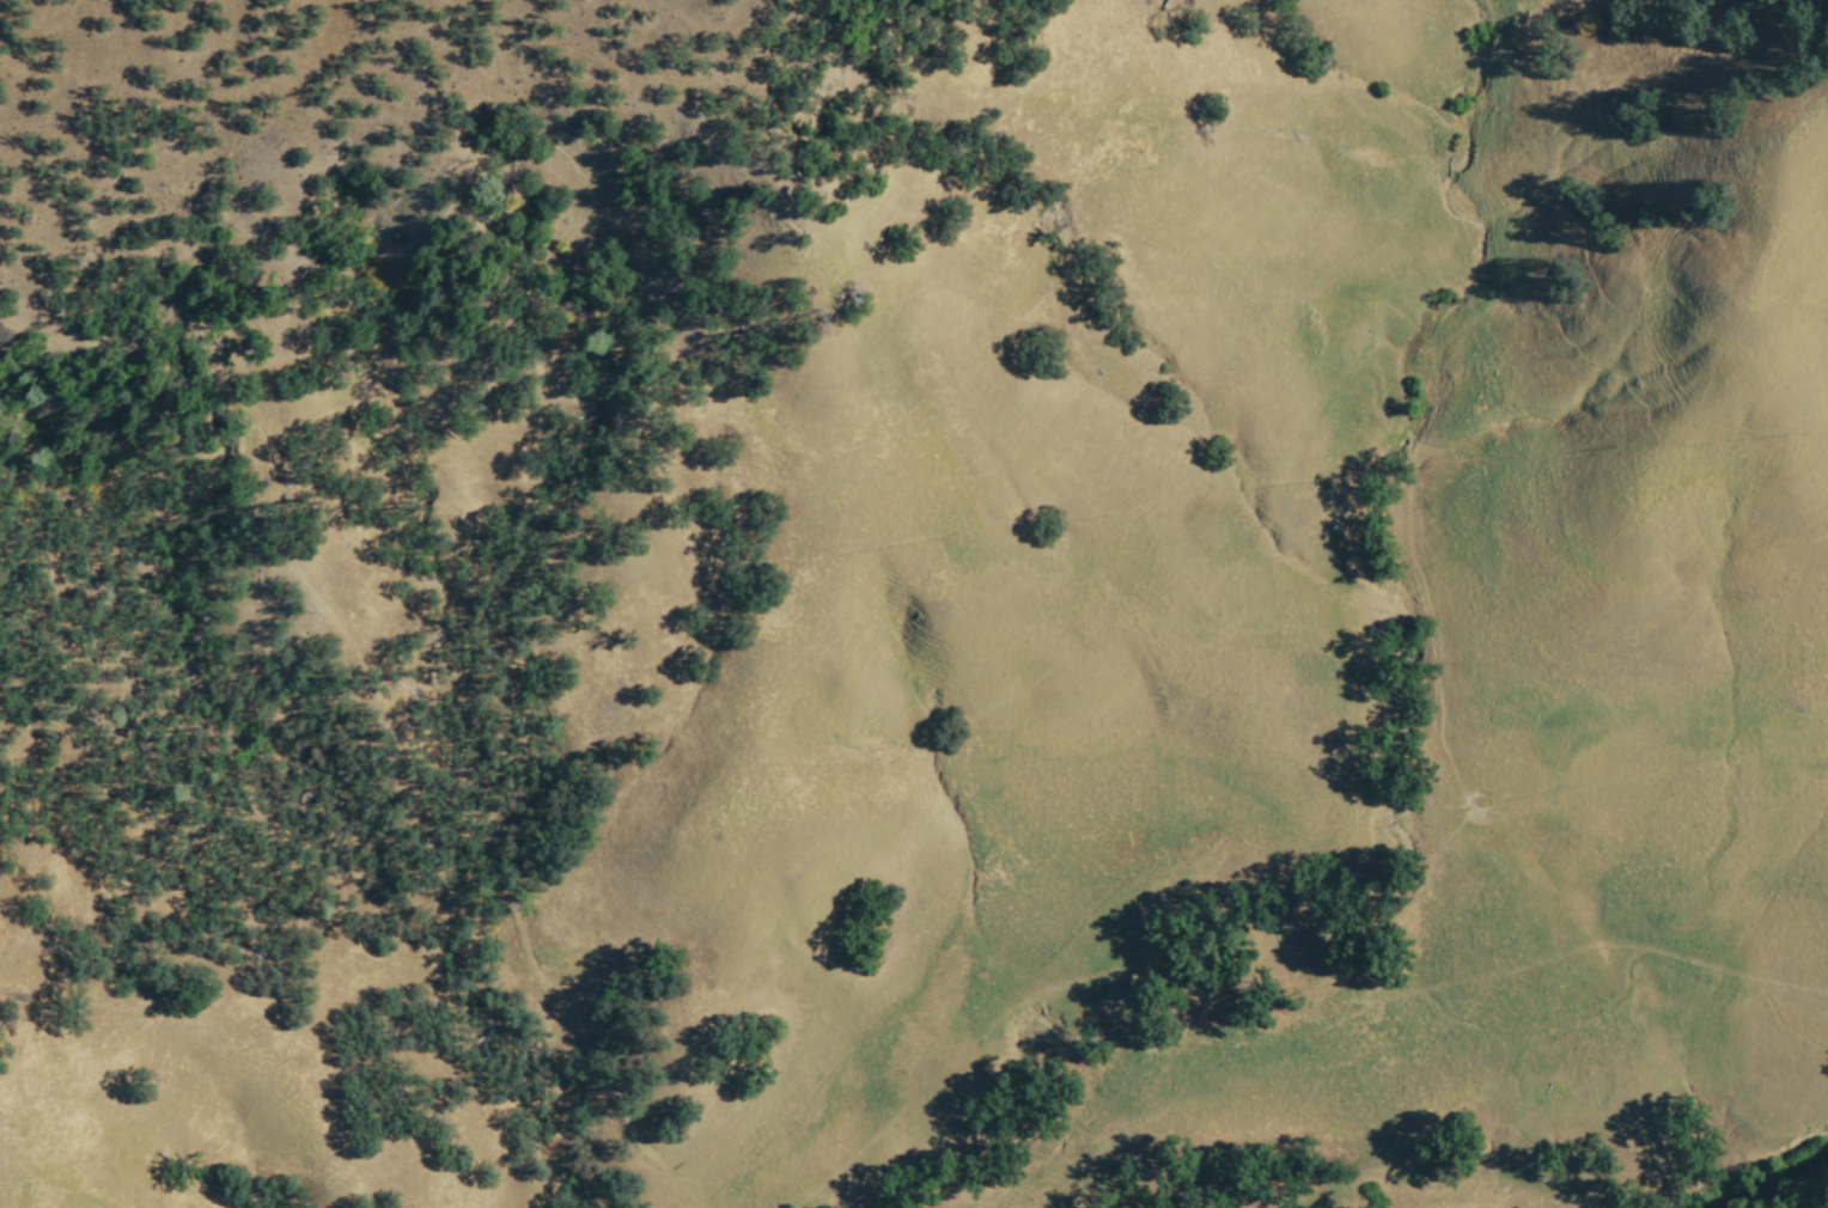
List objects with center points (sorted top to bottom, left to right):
river: (1783, 1182)

